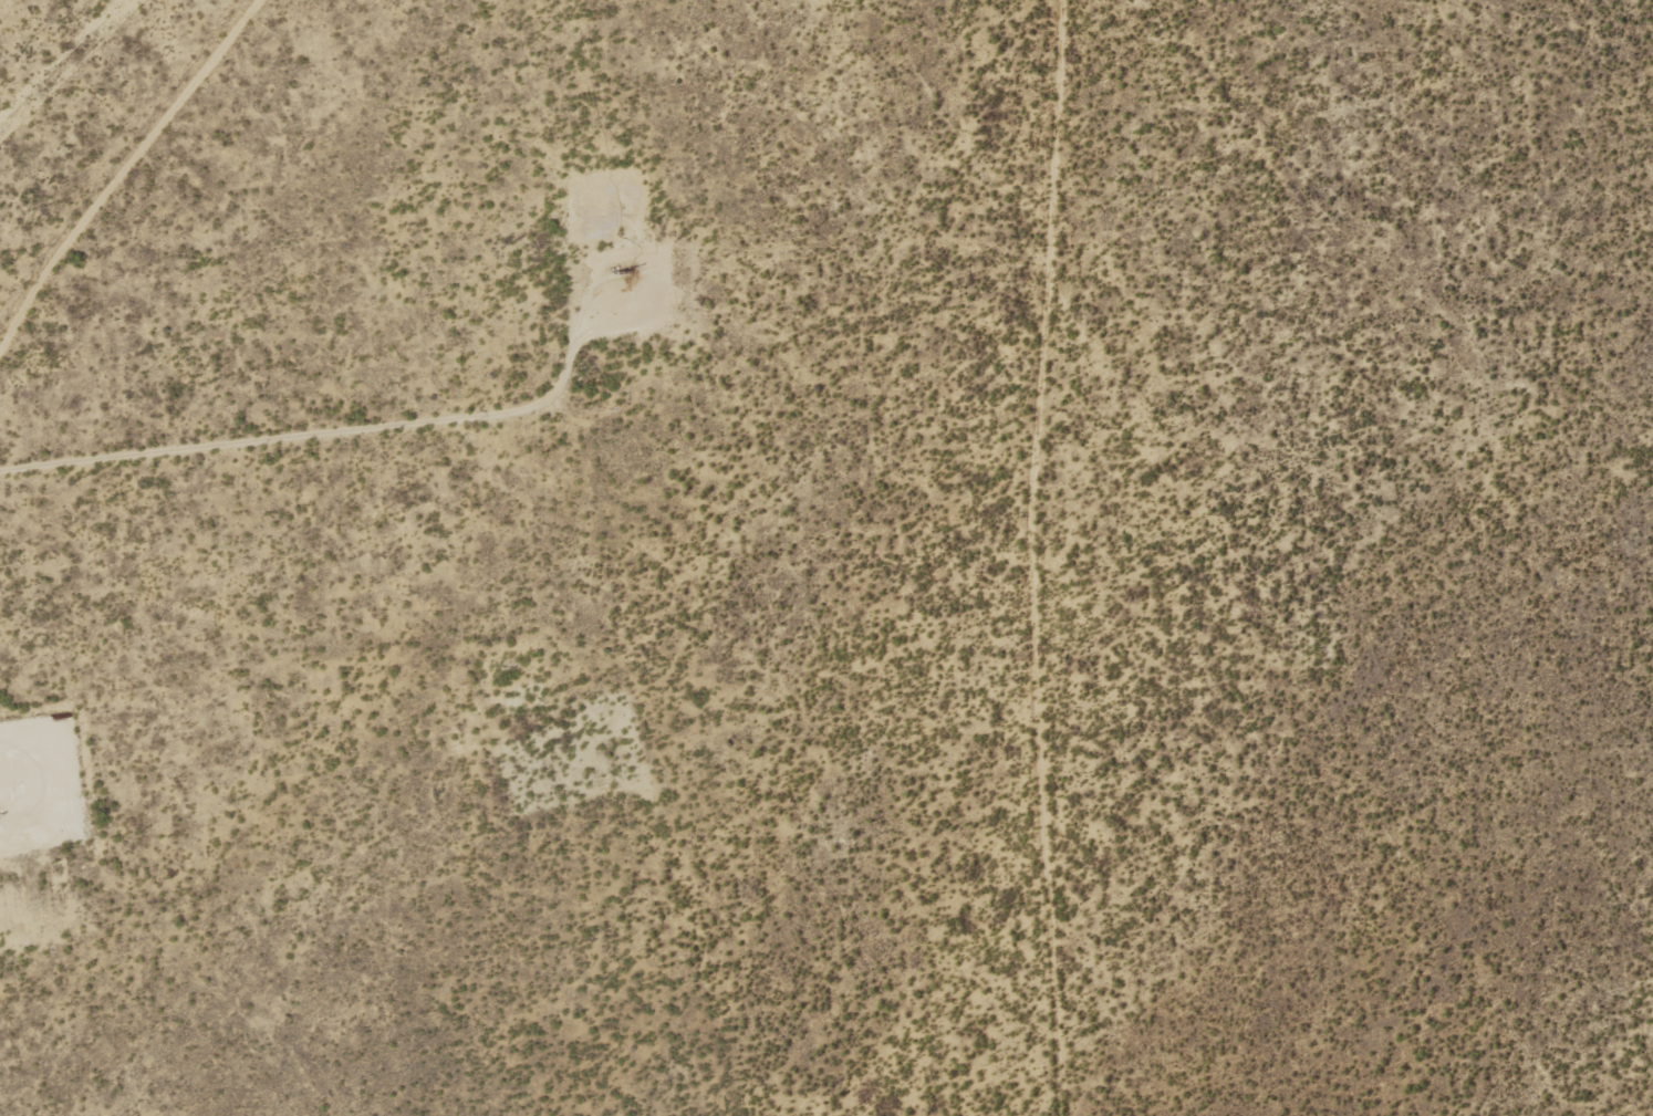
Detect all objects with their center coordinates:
road: (1031, 559)

